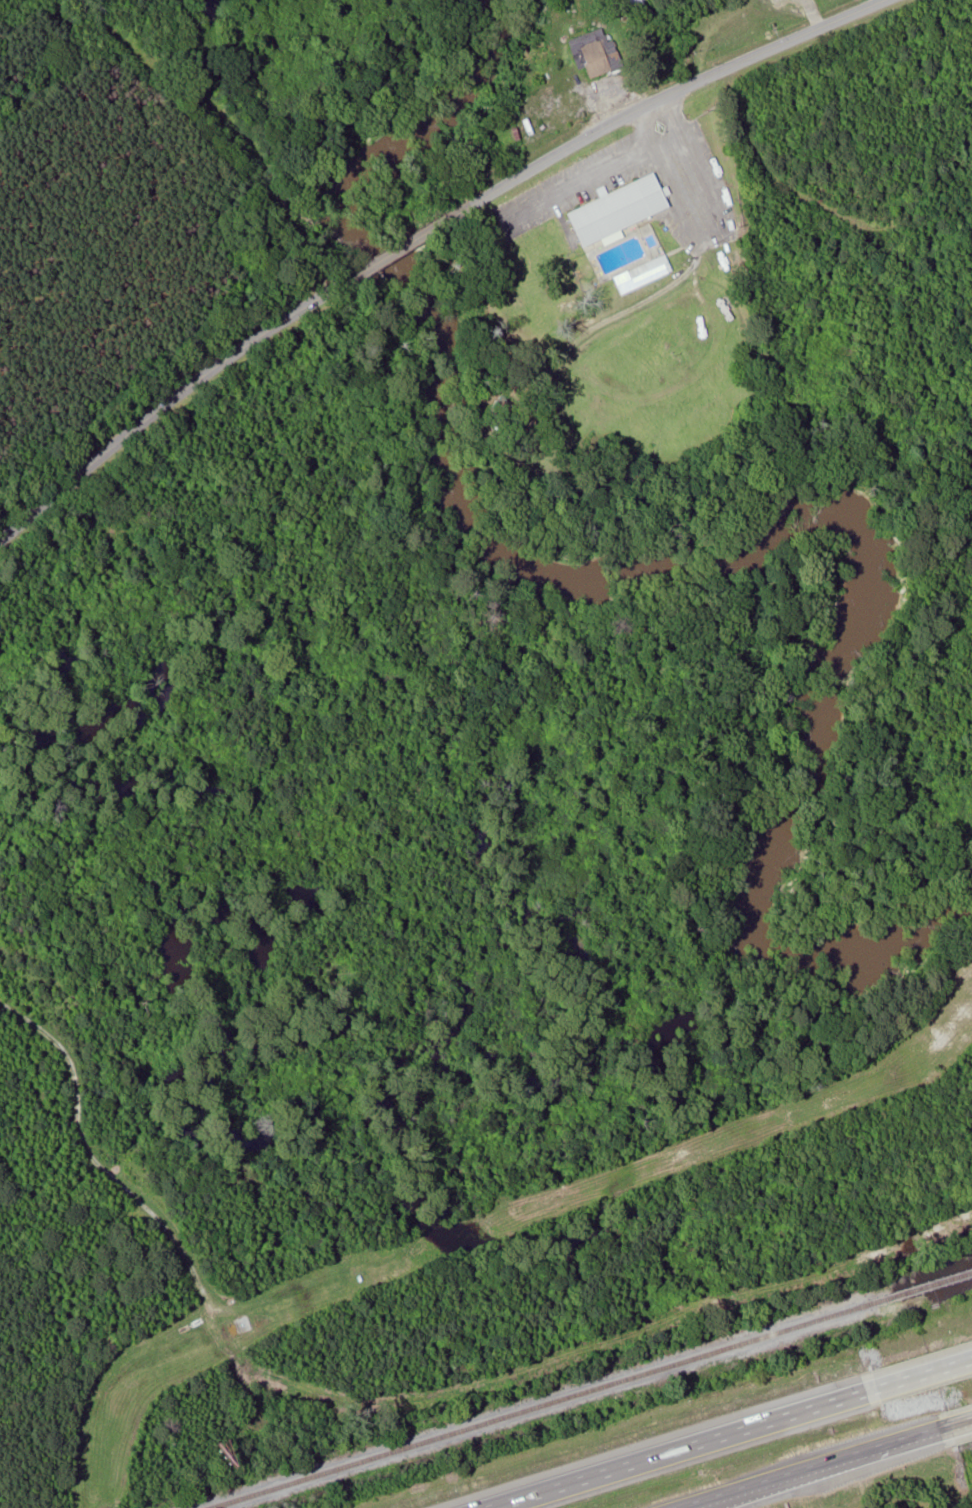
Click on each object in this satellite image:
building: (597, 53)
building: (622, 209)
road: (418, 235)
building: (645, 273)
building: (499, 409)
river: (670, 545)
road: (921, 1375)
railway: (589, 1390)
road: (956, 1425)
road: (680, 1449)
road: (813, 1469)

